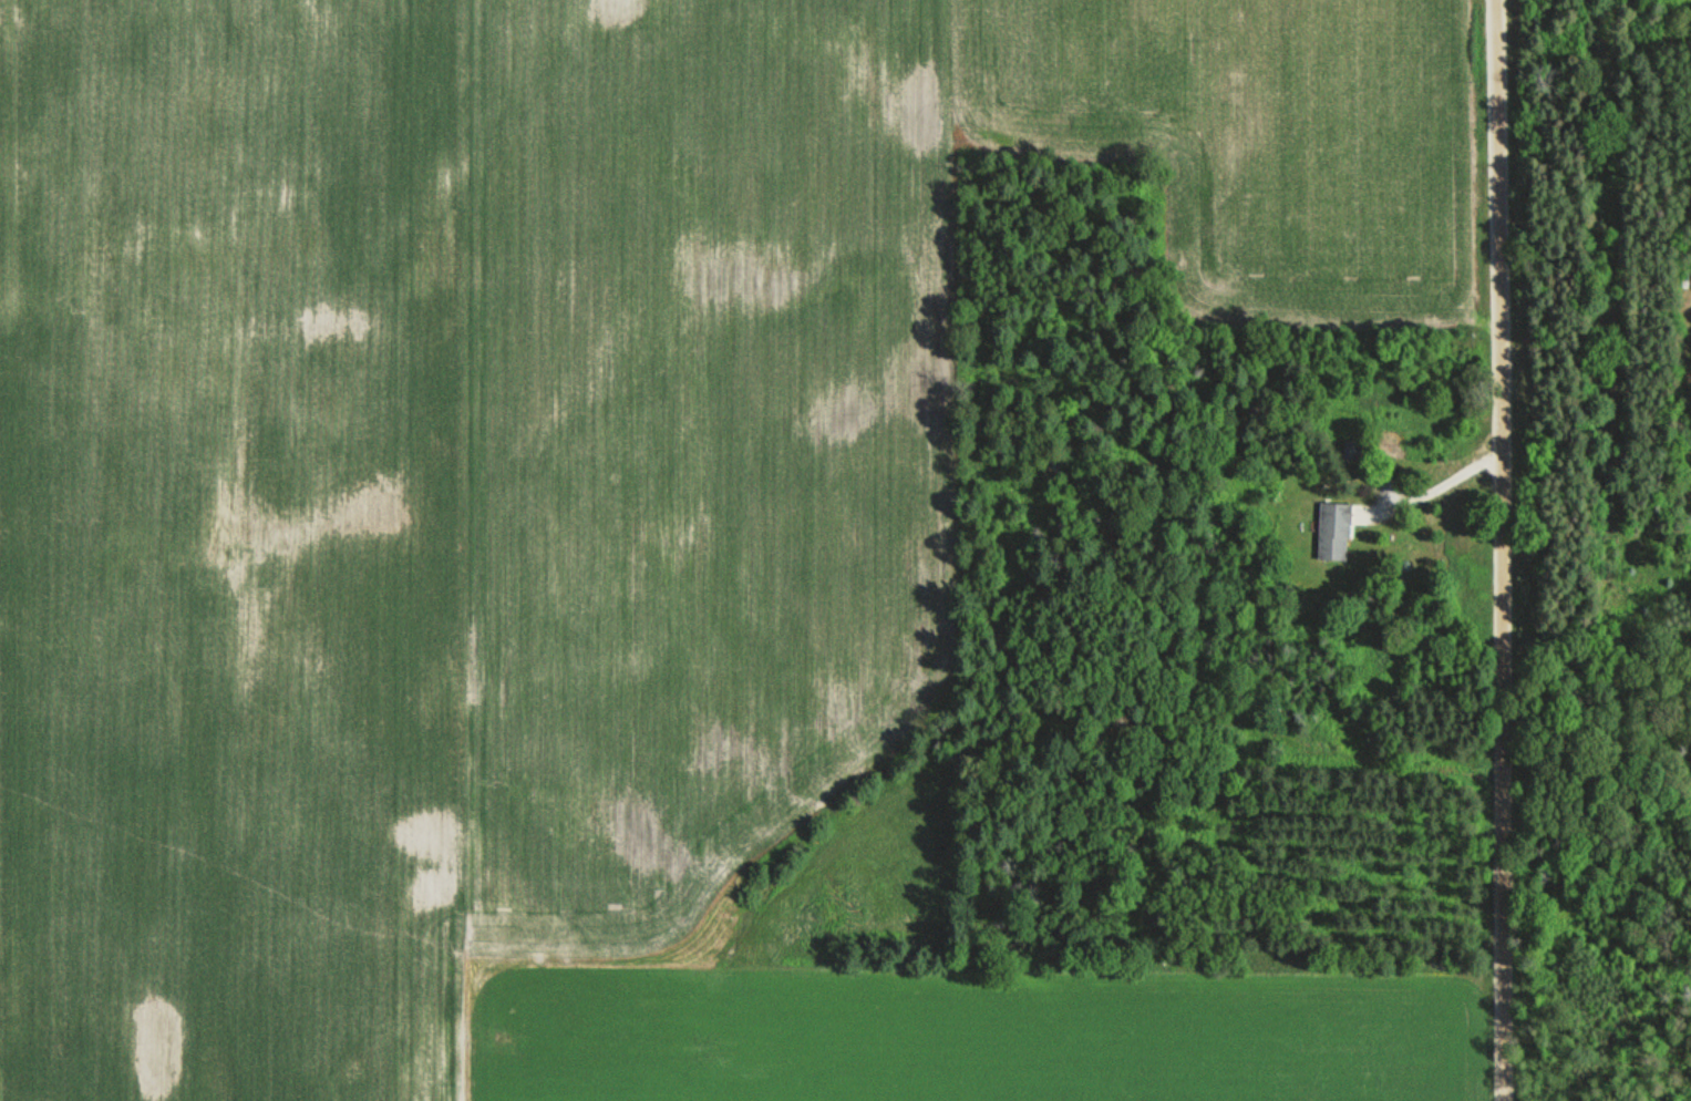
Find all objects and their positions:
building: (1359, 450)
building: (1336, 532)
road: (1497, 550)

